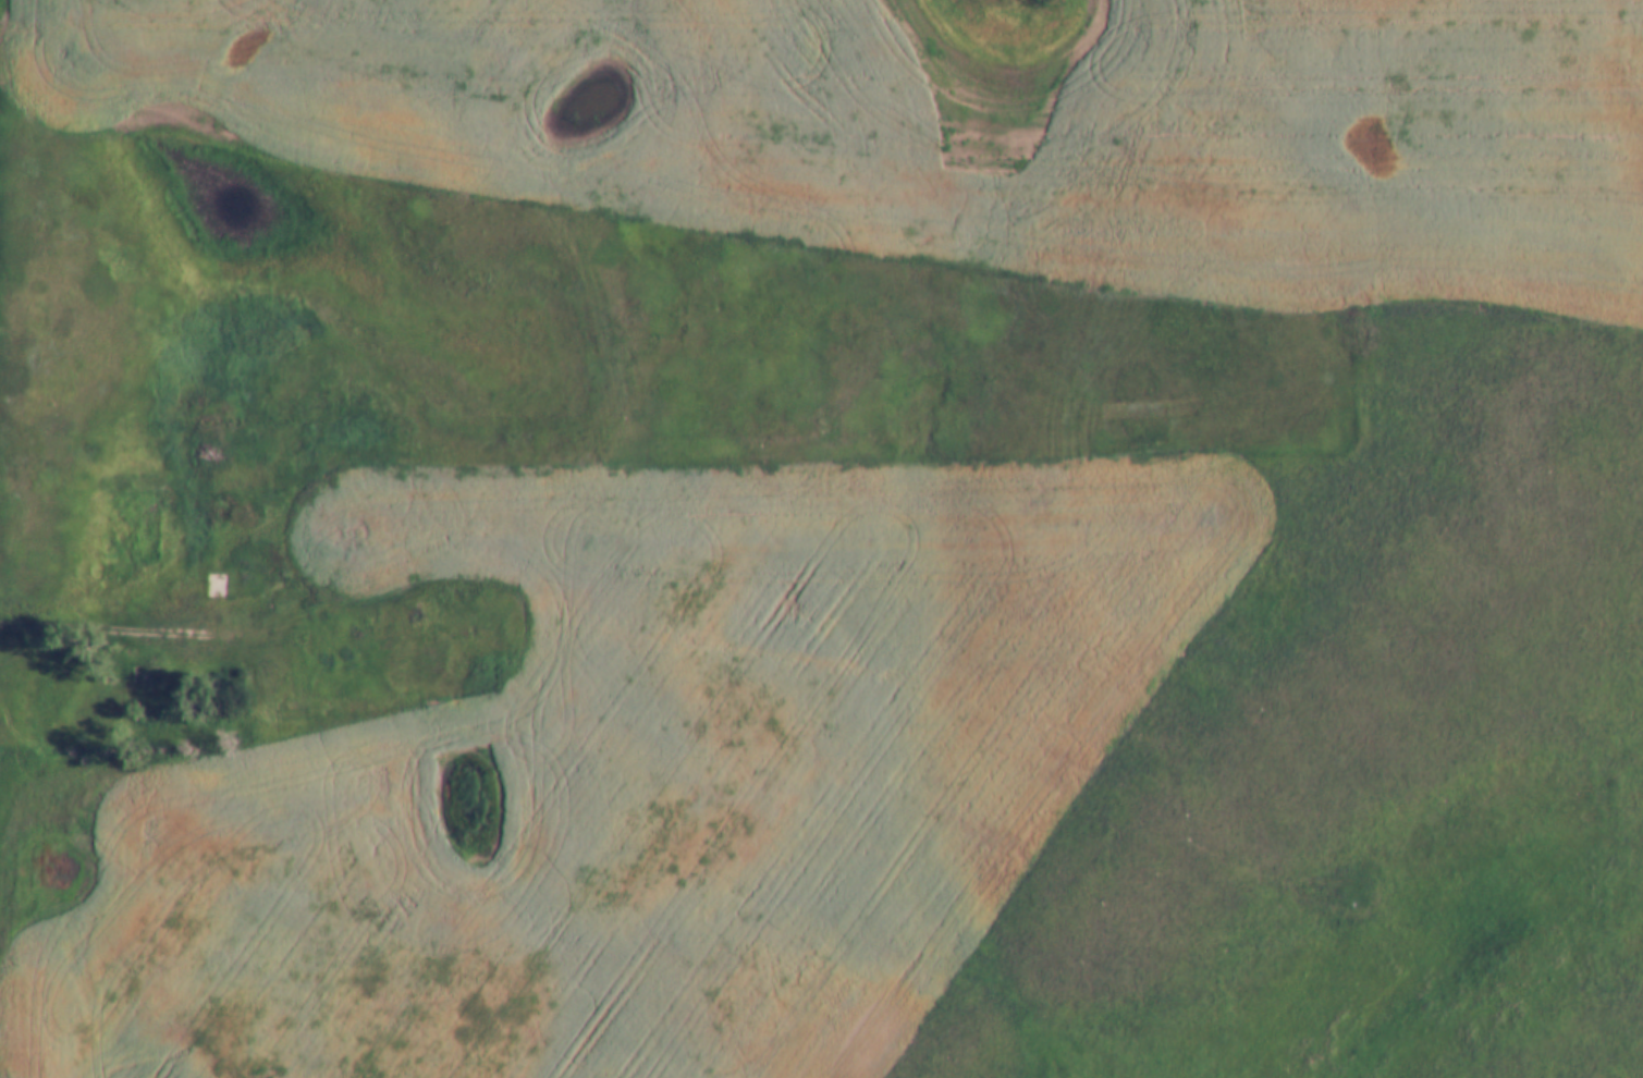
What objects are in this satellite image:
building: (218, 587)
road: (119, 634)

